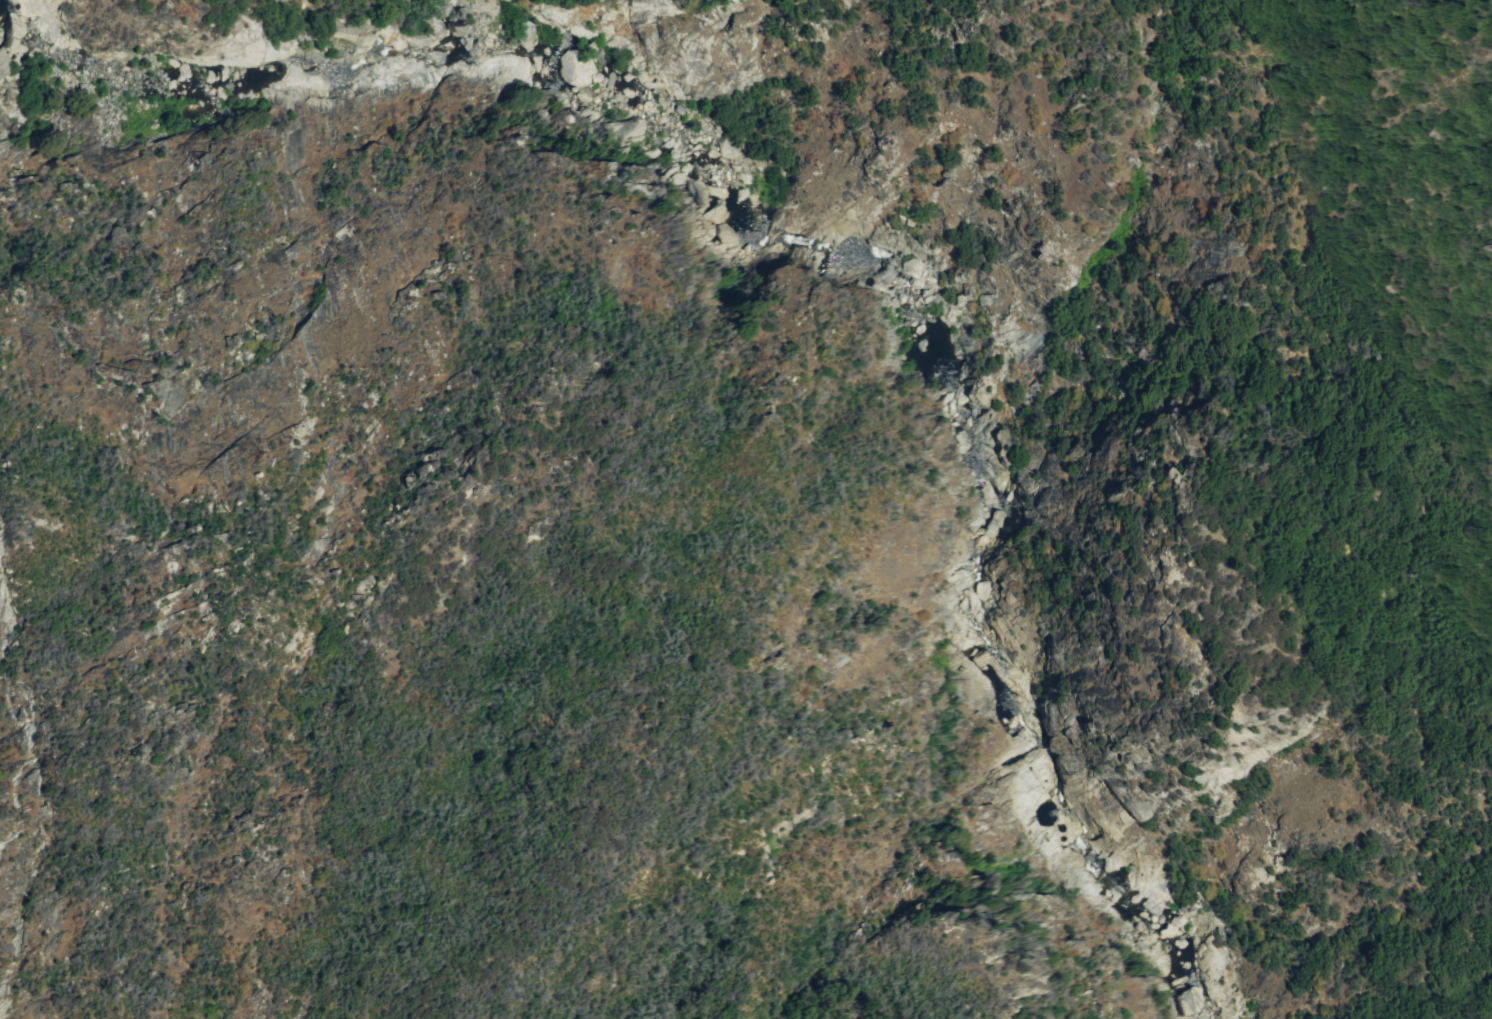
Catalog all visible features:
river: (517, 81)
river: (996, 715)

